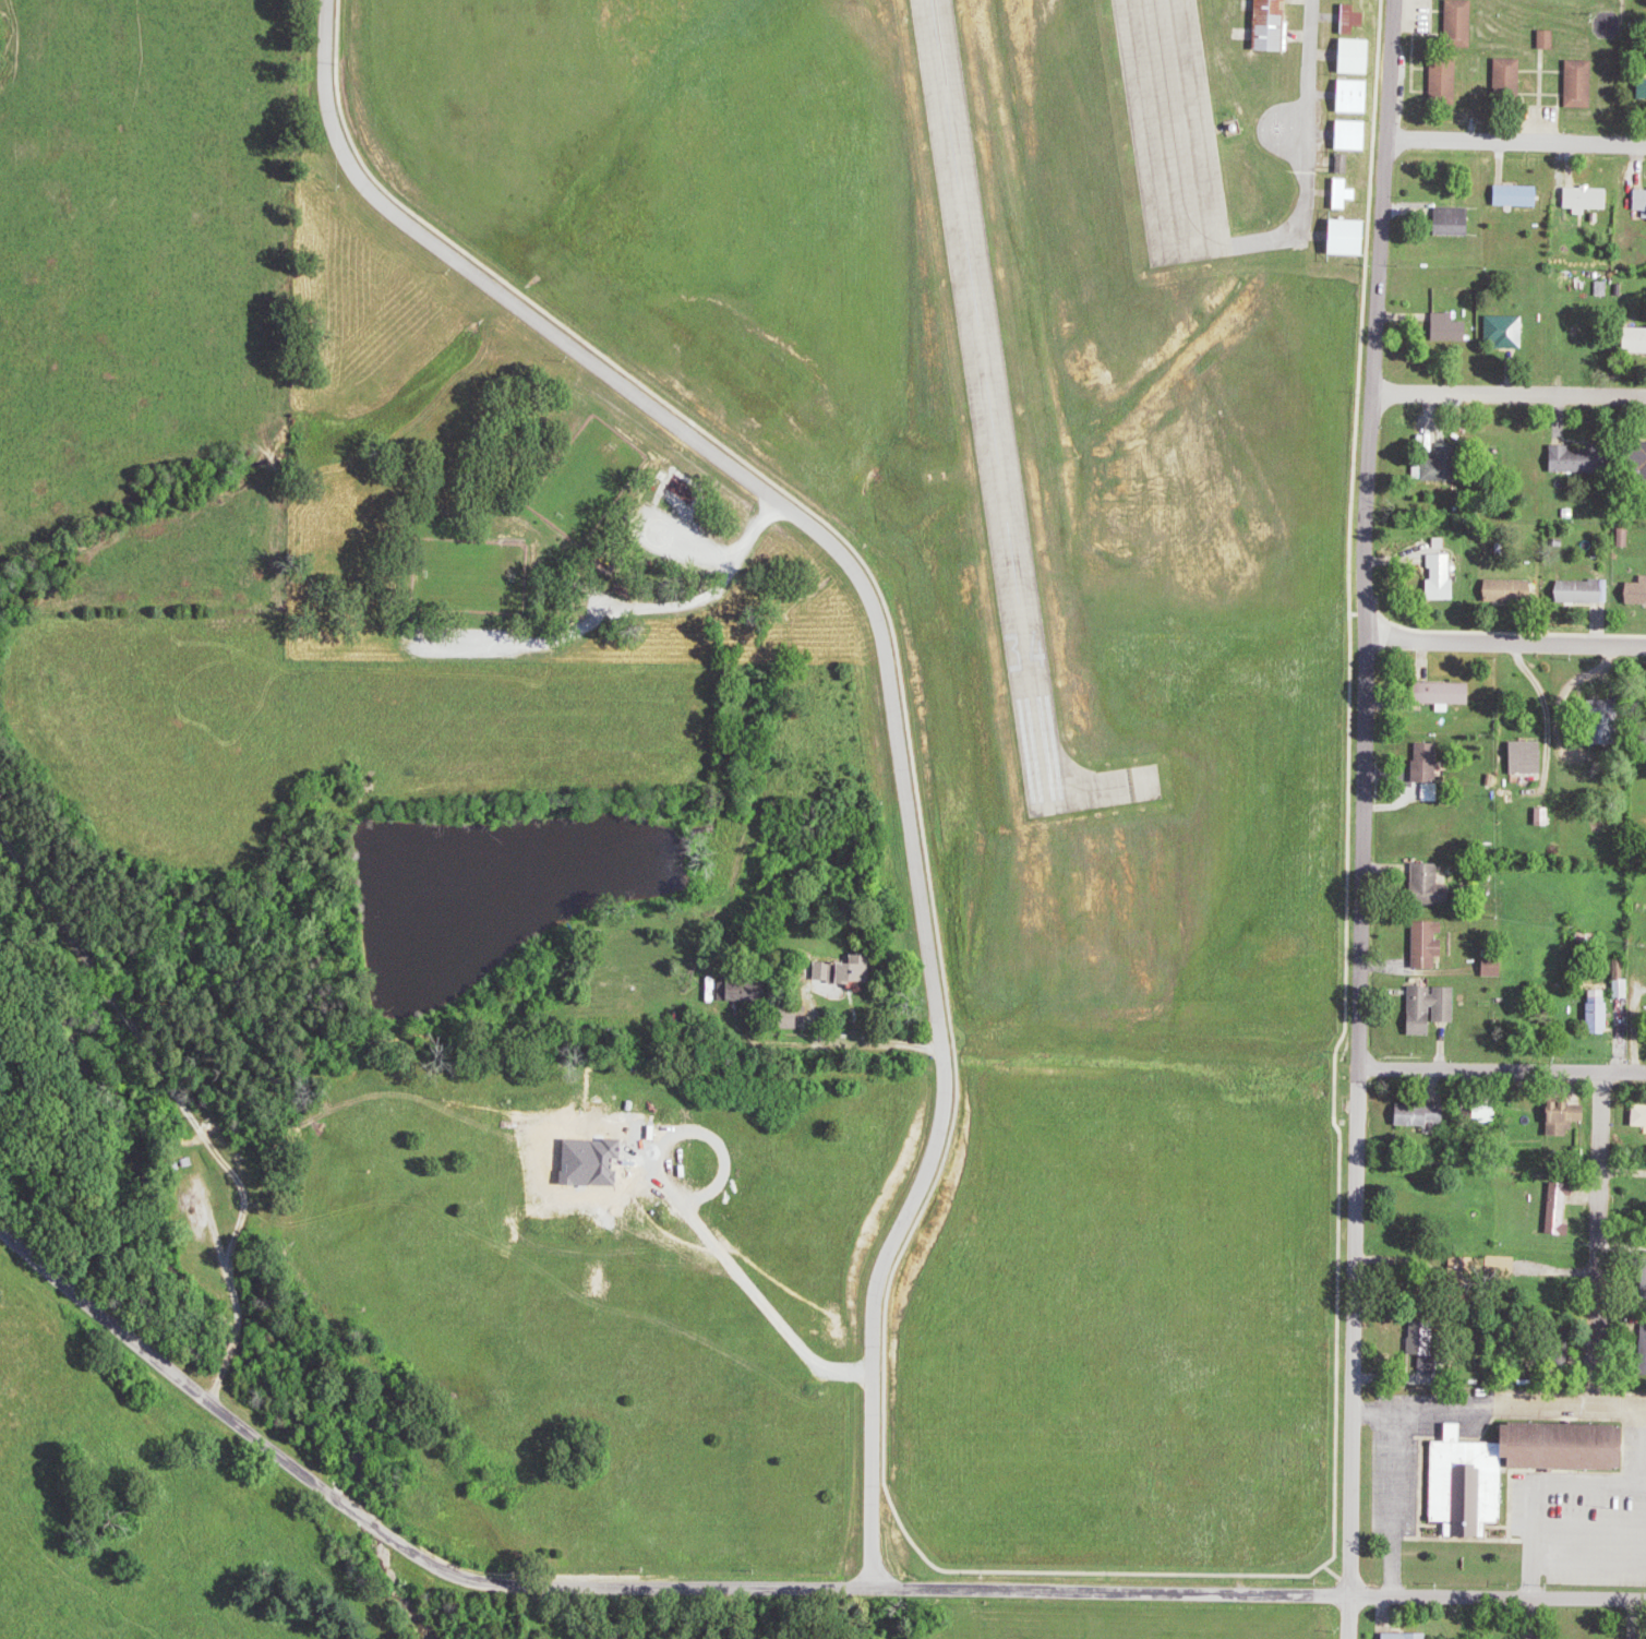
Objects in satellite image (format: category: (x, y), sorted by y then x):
building: (1354, 20)
building: (1463, 22)
building: (1274, 25)
building: (1551, 39)
building: (1359, 56)
building: (1447, 80)
building: (1511, 80)
building: (1583, 84)
building: (1645, 89)
building: (1357, 96)
airport apron: (1173, 131)
building: (1356, 135)
road: (1517, 141)
building: (1346, 193)
building: (1522, 195)
building: (1590, 199)
building: (1642, 201)
building: (1353, 238)
road: (1377, 315)
building: (1453, 328)
building: (1509, 331)
building: (1638, 340)
road: (1509, 394)
airport runway: (989, 396)
building: (1626, 537)
building: (1445, 577)
building: (1513, 591)
building: (1584, 591)
building: (1638, 594)
road: (662, 608)
road: (1505, 638)
road: (884, 671)
building: (1449, 693)
road: (1542, 709)
building: (1531, 757)
building: (1431, 770)
building: (1545, 816)
building: (1432, 886)
building: (1432, 943)
building: (1495, 967)
building: (850, 969)
building: (1624, 988)
building: (754, 990)
building: (1433, 1007)
road: (1632, 1027)
road: (862, 1044)
road: (1501, 1067)
building: (1423, 1115)
building: (1642, 1115)
building: (1569, 1116)
road: (1355, 1135)
building: (1561, 1209)
road: (1597, 1270)
building: (1428, 1350)
building: (1517, 1465)
road: (1391, 1482)
road: (440, 1570)
road: (1320, 1594)
building: (1408, 1636)

